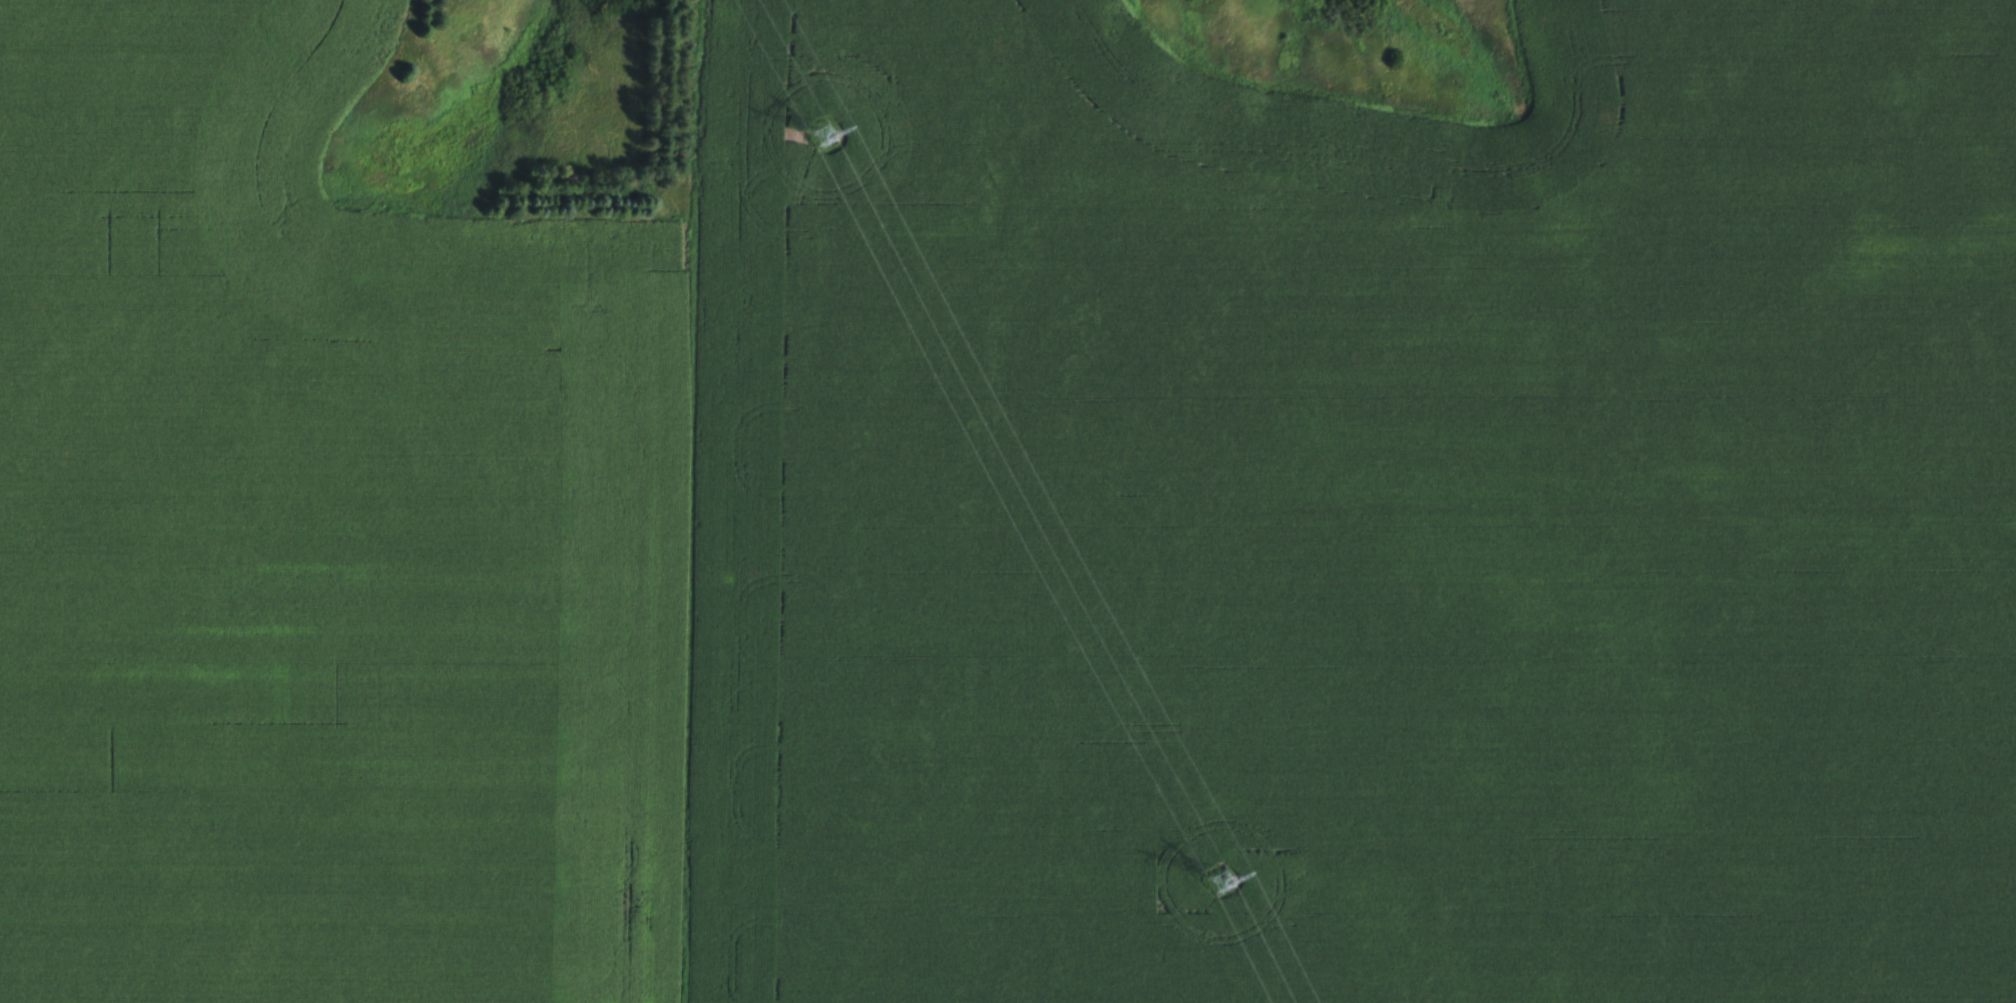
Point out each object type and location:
power tower: (828, 142)
power tower: (1222, 883)

